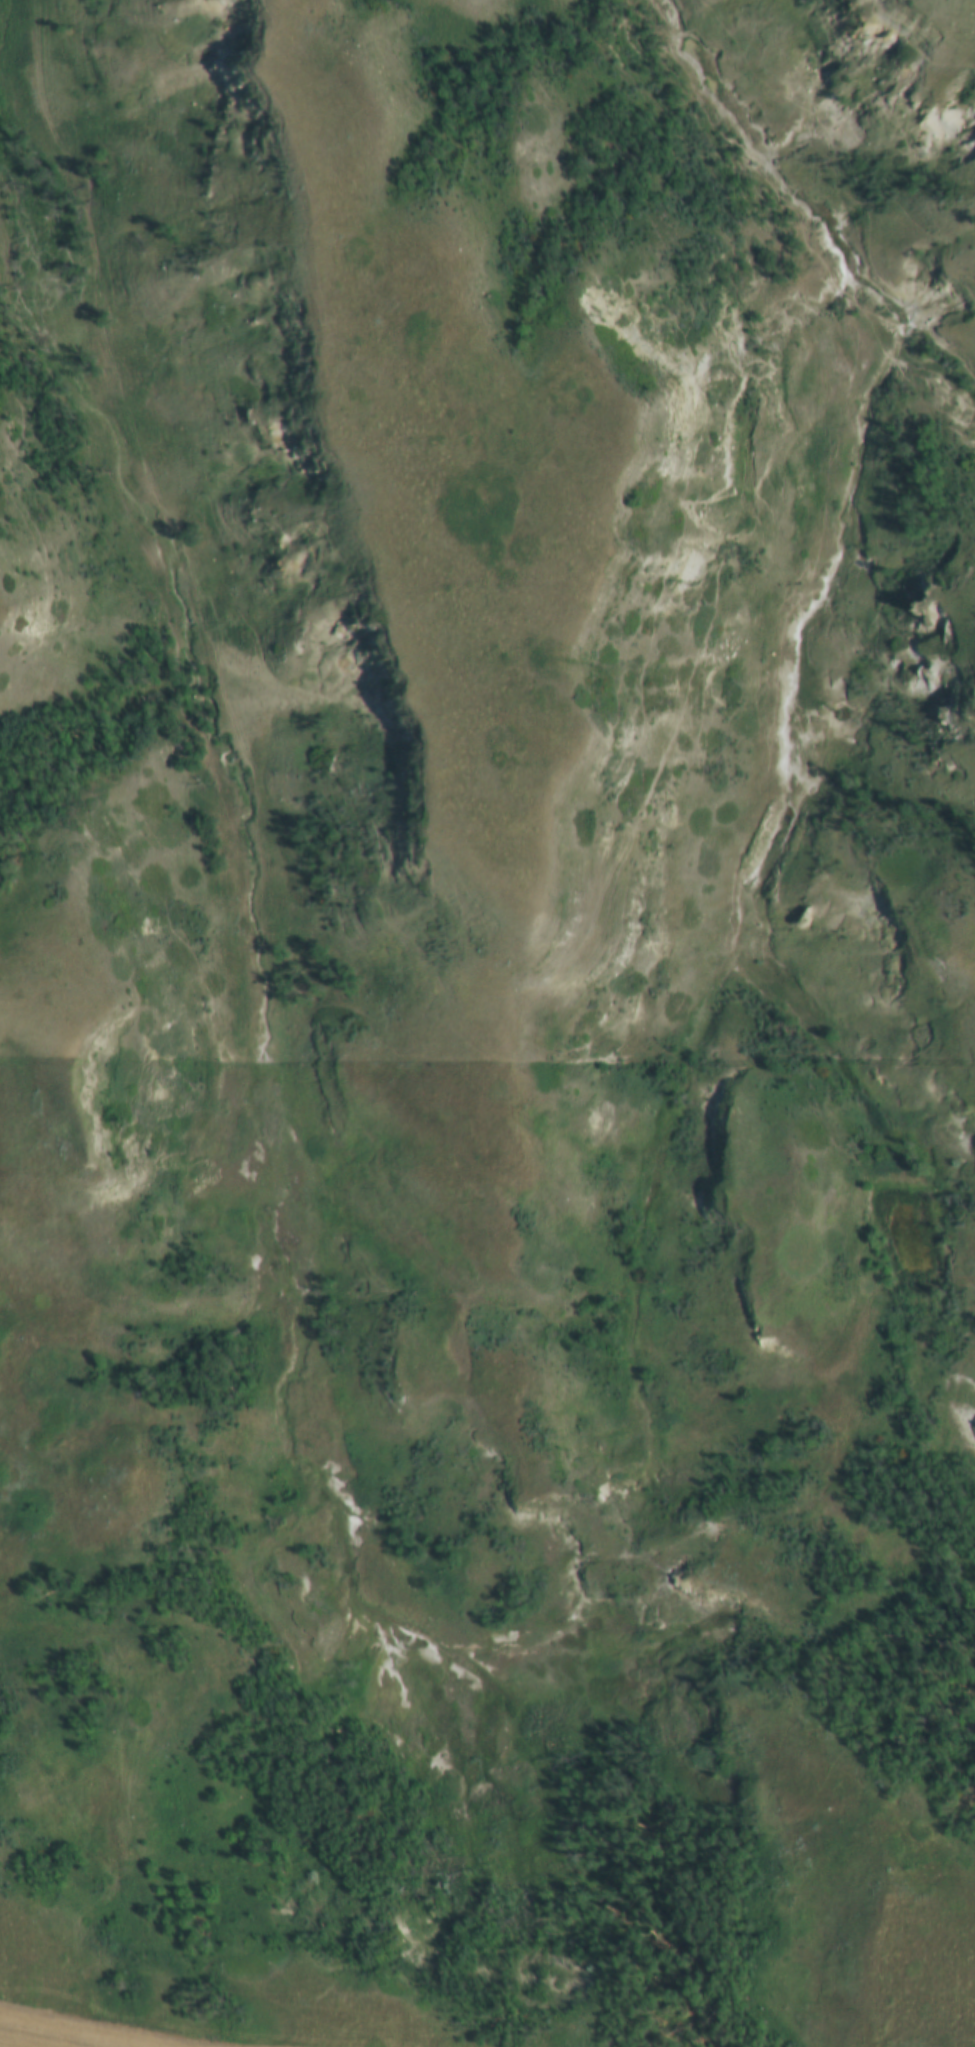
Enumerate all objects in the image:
road: (88, 2017)

